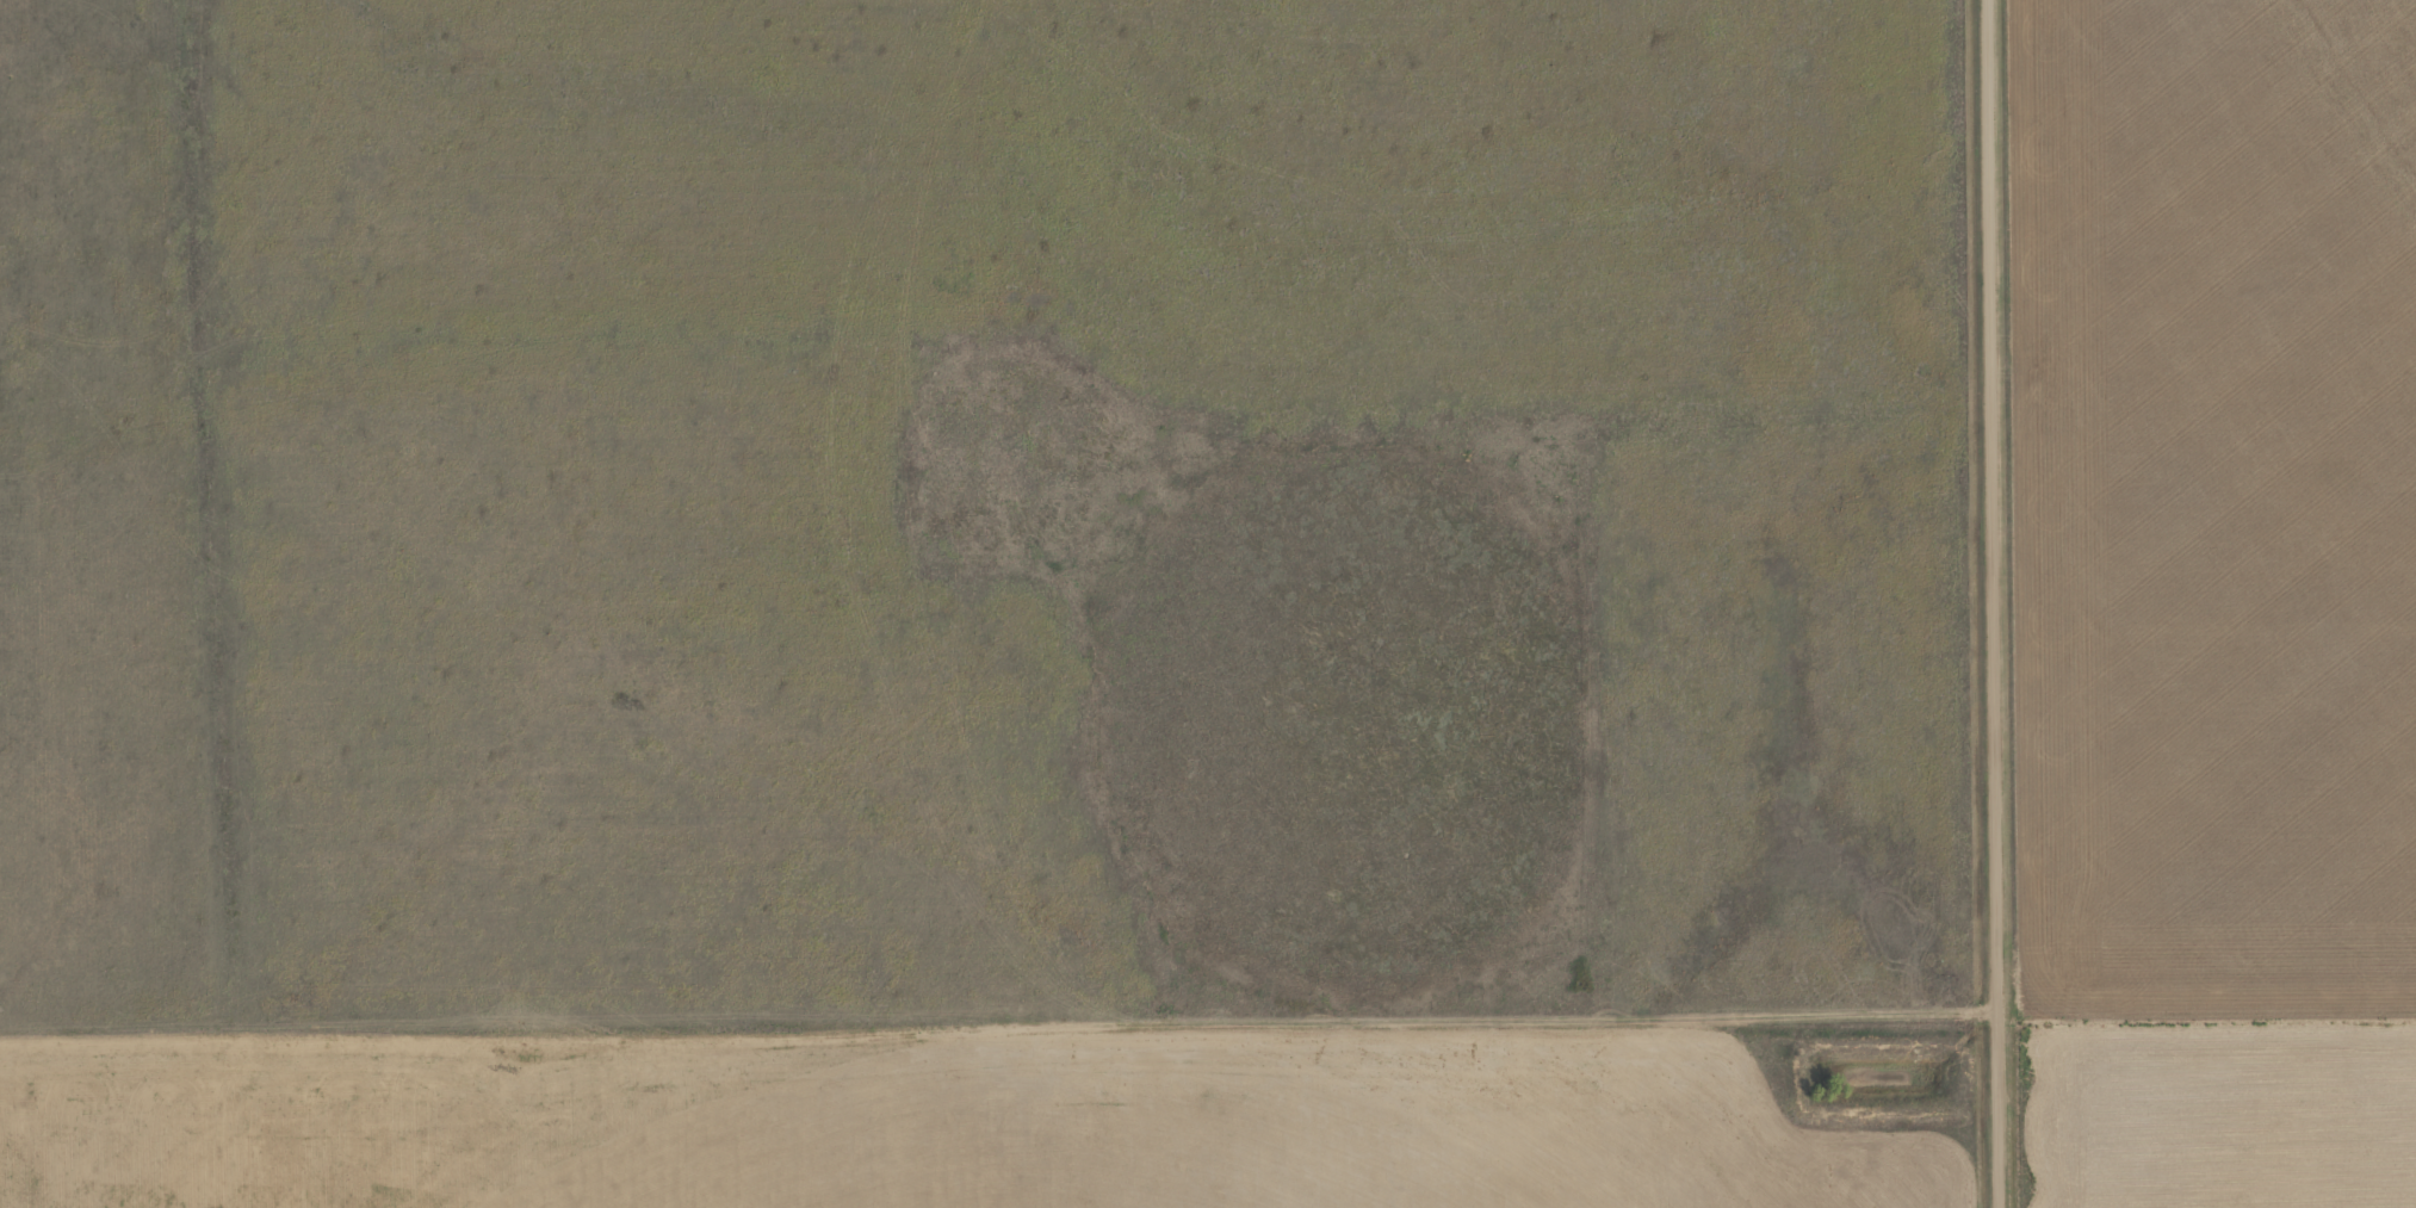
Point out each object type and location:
road: (1993, 603)

